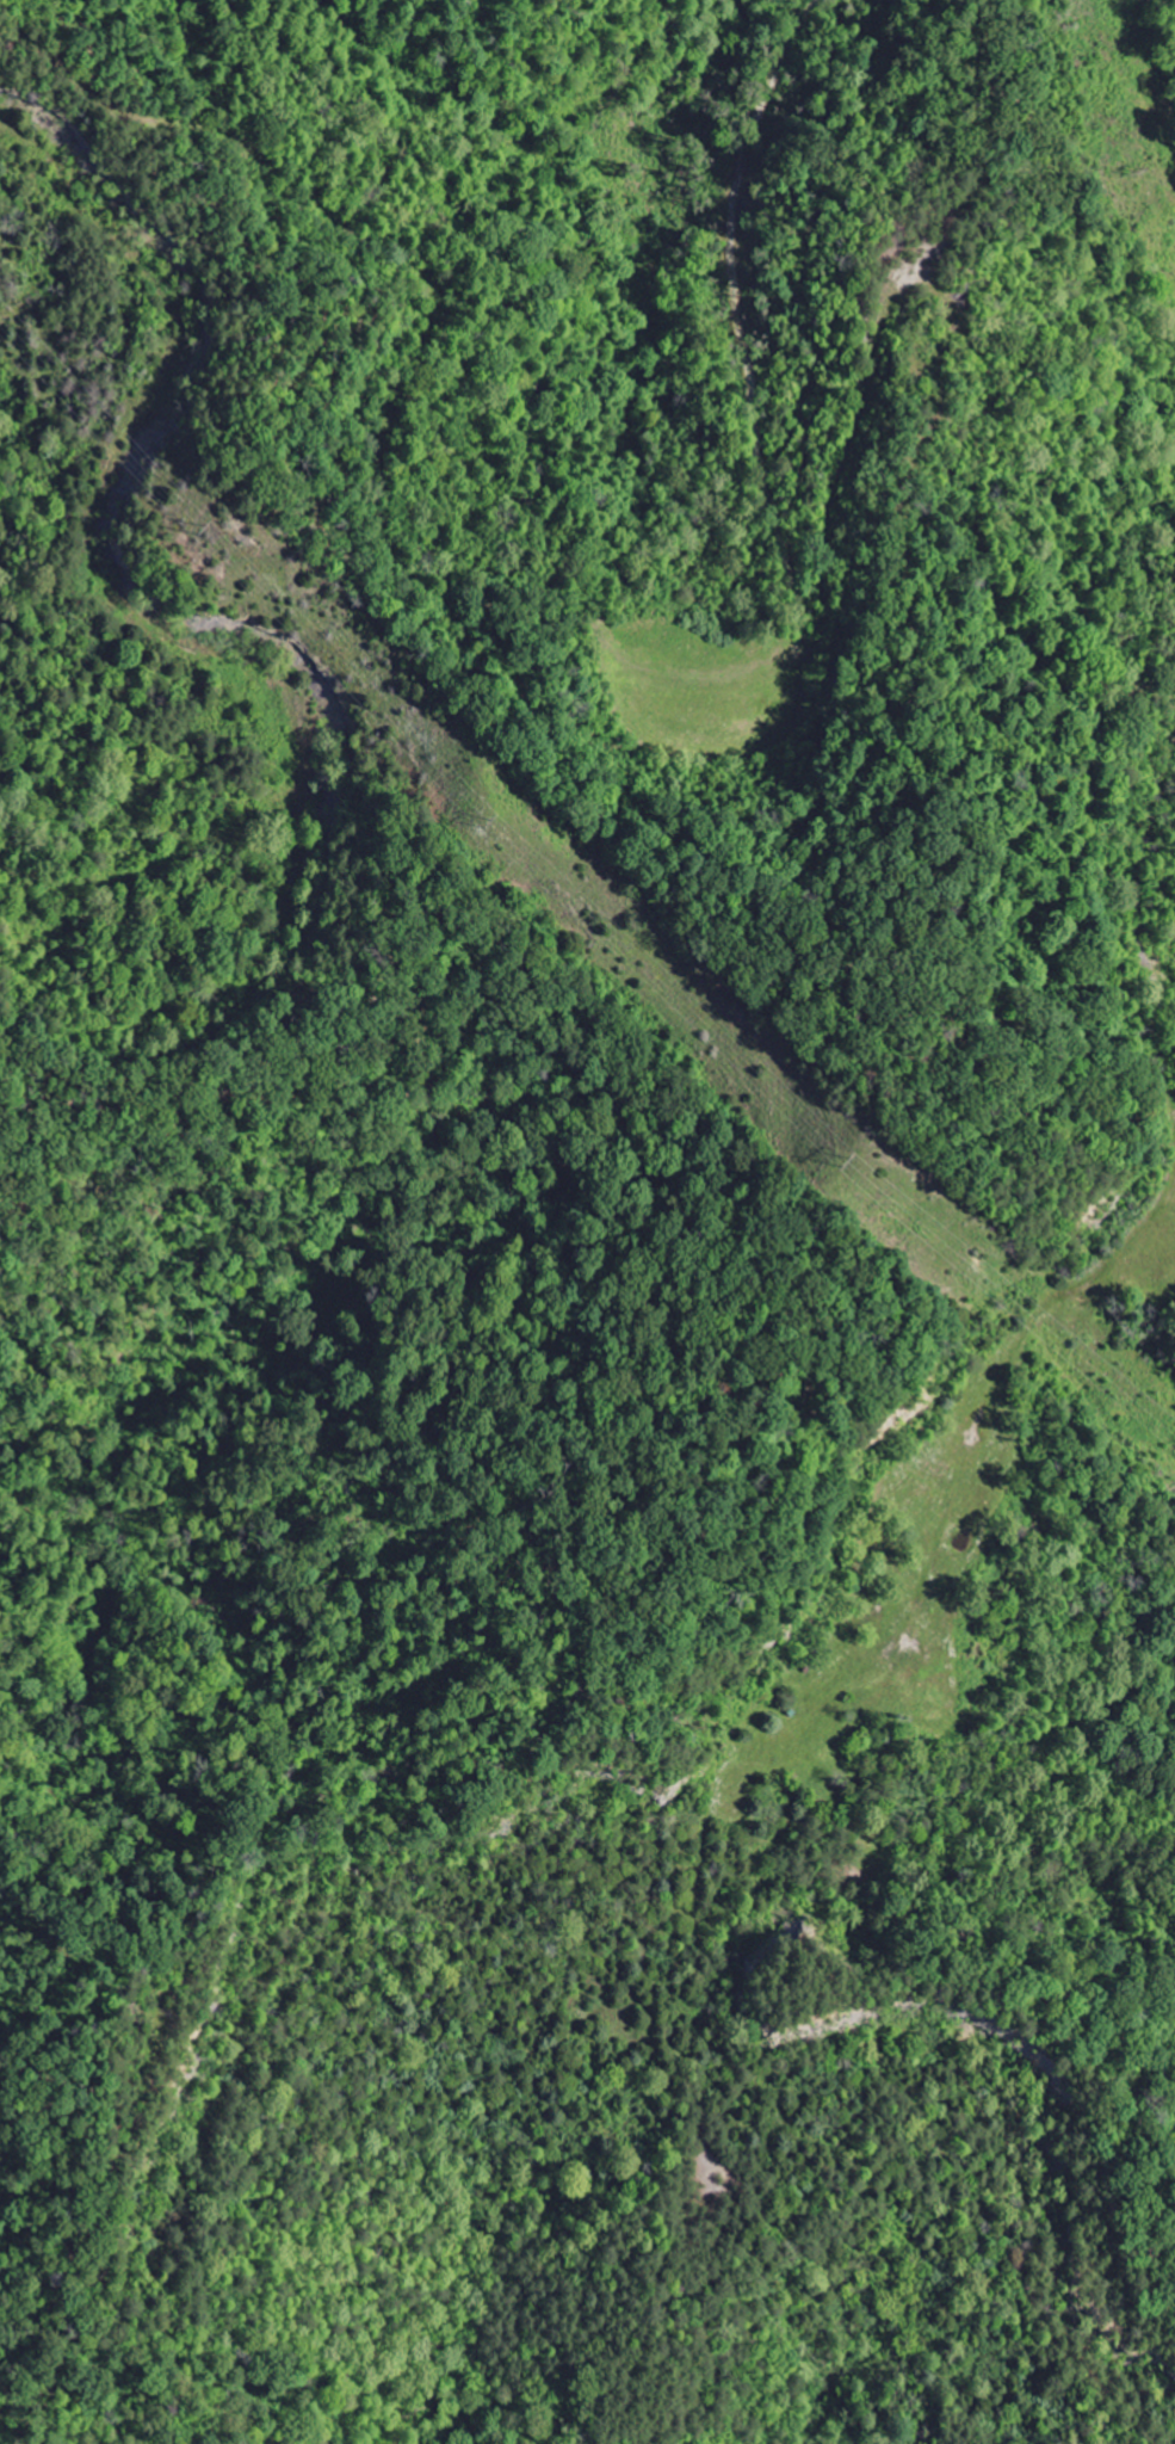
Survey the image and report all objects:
power tower: (842, 1168)

